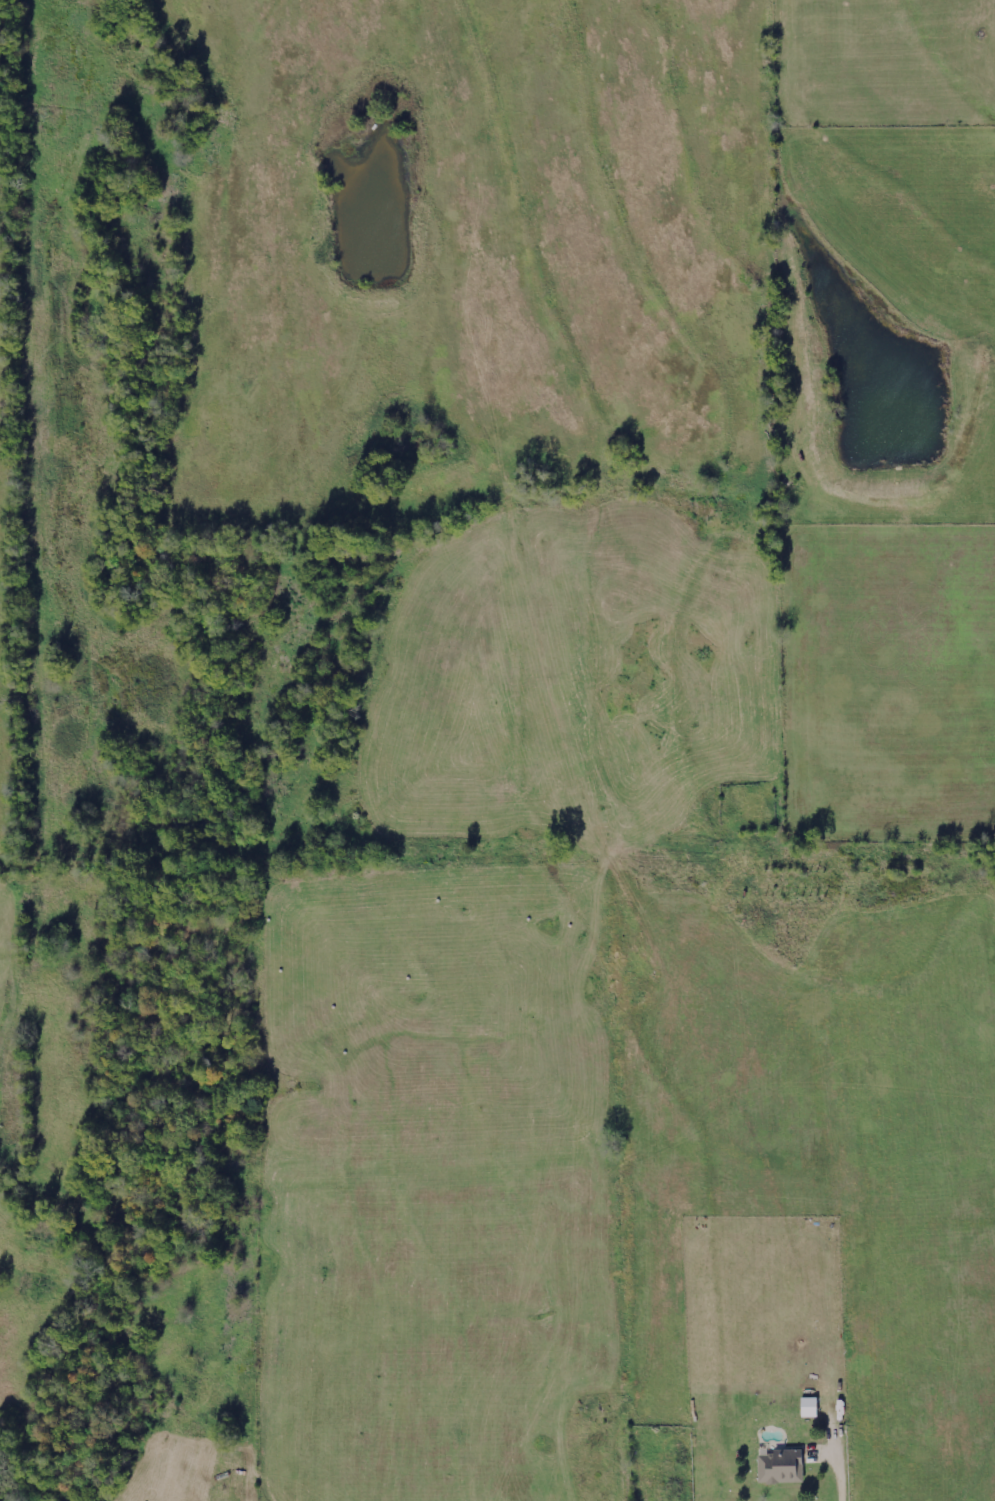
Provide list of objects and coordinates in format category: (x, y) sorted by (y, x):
building: (781, 1467)

